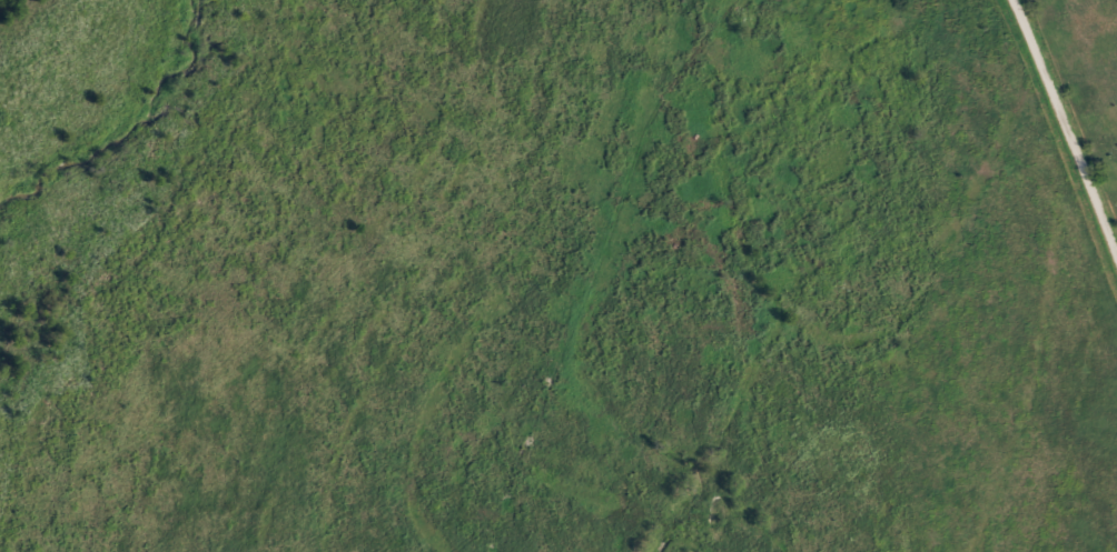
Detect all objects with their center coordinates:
road: (1066, 117)

